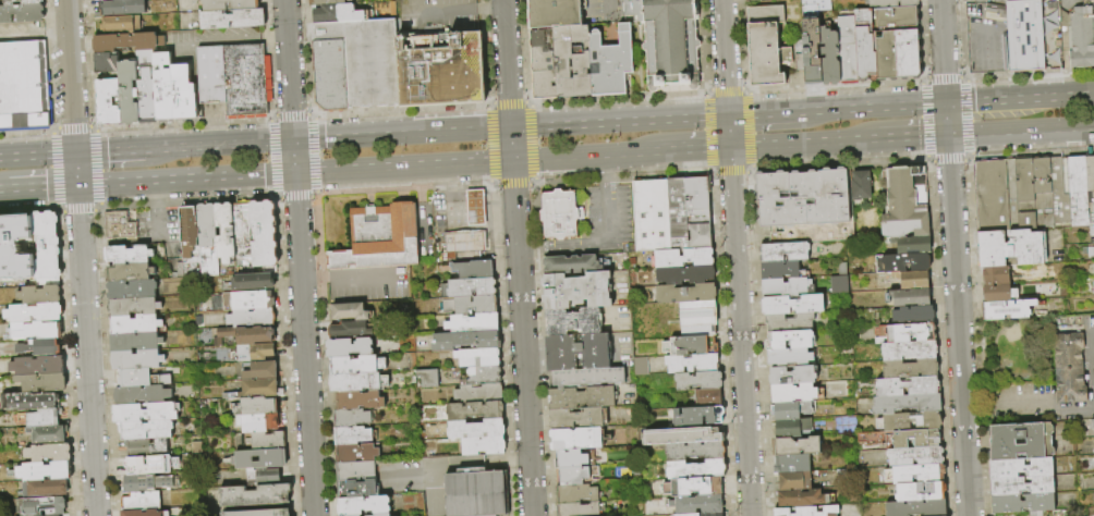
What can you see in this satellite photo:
building: (99, 0)
building: (976, 0)
building: (998, 0)
building: (752, 1)
building: (23, 2)
building: (330, 2)
building: (890, 3)
building: (212, 5)
building: (122, 8)
building: (1092, 9)
road: (489, 11)
building: (812, 12)
building: (556, 13)
building: (21, 14)
building: (339, 14)
building: (764, 14)
parking lot: (435, 15)
road: (435, 15)
building: (896, 17)
building: (232, 20)
building: (121, 24)
road: (952, 27)
road: (37, 33)
building: (1079, 36)
road: (986, 37)
building: (1023, 37)
road: (271, 40)
building: (668, 40)
building: (126, 42)
road: (212, 44)
road: (1049, 44)
building: (864, 46)
building: (846, 47)
building: (539, 51)
road: (941, 51)
building: (765, 54)
building: (798, 54)
building: (907, 54)
building: (566, 56)
building: (886, 56)
building: (811, 57)
building: (827, 57)
road: (639, 60)
building: (367, 61)
building: (610, 62)
building: (106, 64)
road: (506, 64)
building: (440, 66)
road: (288, 70)
building: (581, 72)
building: (211, 75)
building: (330, 75)
building: (246, 82)
road: (1053, 82)
building: (543, 84)
road: (989, 86)
building: (24, 87)
building: (146, 87)
building: (163, 87)
building: (183, 91)
building: (129, 93)
road: (1056, 97)
road: (982, 101)
building: (108, 102)
traffic signals: (945, 103)
road: (874, 108)
road: (765, 114)
traffic signals: (727, 116)
road: (618, 122)
traffic signals: (510, 128)
road: (1020, 130)
road: (401, 134)
traffic signals: (947, 135)
road: (903, 137)
traffic signals: (293, 142)
road: (794, 143)
road: (510, 144)
road: (224, 145)
traffic signals: (729, 147)
road: (694, 149)
road: (116, 151)
traffic signals: (75, 153)
road: (584, 155)
road: (37, 156)
road: (293, 157)
traffic signals: (511, 160)
road: (402, 165)
road: (611, 169)
traffic signals: (294, 172)
road: (451, 176)
road: (185, 177)
building: (861, 184)
road: (883, 184)
traffic signals: (77, 185)
road: (39, 187)
building: (1091, 188)
road: (0, 189)
road: (874, 189)
building: (1060, 191)
building: (1079, 193)
building: (1043, 194)
road: (159, 195)
building: (1025, 195)
building: (997, 196)
building: (697, 197)
building: (802, 197)
road: (452, 206)
building: (475, 208)
road: (499, 212)
road: (615, 212)
road: (476, 213)
building: (677, 213)
road: (460, 214)
building: (559, 216)
building: (651, 216)
building: (119, 226)
road: (161, 226)
building: (242, 231)
building: (812, 232)
building: (224, 233)
building: (264, 236)
building: (700, 236)
building: (379, 238)
building: (207, 241)
building: (46, 244)
building: (463, 244)
road: (585, 244)
building: (912, 244)
building: (189, 245)
road: (535, 246)
building: (15, 248)
building: (1011, 248)
building: (783, 251)
building: (127, 254)
building: (469, 255)
road: (81, 257)
road: (734, 257)
building: (682, 258)
building: (903, 262)
building: (570, 265)
building: (475, 270)
building: (781, 270)
building: (130, 272)
building: (684, 275)
building: (998, 275)
building: (912, 279)
building: (47, 282)
building: (252, 282)
road: (368, 283)
building: (837, 284)
road: (317, 285)
building: (1092, 286)
building: (787, 287)
building: (469, 288)
building: (131, 290)
building: (576, 291)
building: (1000, 293)
building: (685, 294)
building: (38, 295)
building: (911, 297)
building: (253, 300)
building: (216, 303)
building: (793, 305)
building: (470, 306)
building: (133, 307)
road: (957, 309)
building: (1010, 310)
building: (34, 312)
building: (350, 312)
building: (697, 314)
building: (913, 315)
building: (251, 319)
building: (572, 321)
building: (790, 322)
building: (472, 323)
building: (135, 324)
road: (1092, 327)
building: (33, 330)
building: (349, 330)
building: (697, 331)
building: (222, 333)
building: (905, 333)
road: (1091, 334)
building: (255, 335)
road: (521, 337)
building: (789, 340)
building: (466, 341)
building: (135, 342)
road: (304, 343)
building: (690, 346)
building: (40, 347)
building: (350, 347)
building: (909, 351)
building: (258, 352)
park: (1018, 353)
building: (478, 358)
building: (789, 358)
building: (136, 360)
building: (560, 360)
building: (692, 364)
building: (36, 365)
road: (1092, 365)
building: (356, 366)
building: (911, 368)
building: (1070, 369)
building: (262, 371)
building: (793, 376)
building: (483, 377)
building: (587, 378)
building: (139, 379)
building: (428, 379)
building: (697, 381)
building: (41, 382)
building: (357, 382)
building: (908, 386)
building: (257, 390)
building: (795, 393)
building: (479, 394)
building: (141, 395)
building: (709, 397)
road: (1093, 397)
building: (582, 398)
building: (29, 401)
building: (360, 401)
road: (1049, 401)
building: (907, 404)
building: (256, 406)
building: (475, 410)
building: (792, 410)
building: (146, 413)
building: (698, 416)
building: (40, 418)
building: (352, 418)
building: (576, 419)
building: (909, 421)
building: (258, 422)
building: (1092, 425)
building: (792, 428)
building: (146, 430)
building: (476, 430)
building: (47, 433)
building: (352, 437)
building: (679, 437)
building: (901, 438)
building: (575, 439)
building: (265, 441)
building: (1022, 442)
building: (483, 446)
building: (798, 446)
building: (146, 447)
building: (695, 451)
building: (48, 452)
building: (356, 453)
building: (915, 456)
building: (571, 459)
building: (238, 460)
road: (476, 464)
building: (792, 464)
building: (150, 465)
building: (1022, 468)
building: (695, 469)
building: (42, 470)
building: (355, 471)
building: (915, 475)
building: (573, 476)
building: (260, 477)
road: (408, 478)
building: (797, 480)
building: (145, 483)
building: (693, 487)
building: (1023, 487)
building: (45, 488)
building: (356, 489)
building: (921, 491)
building: (575, 493)
building: (476, 494)
building: (255, 495)
building: (802, 497)
building: (141, 501)
building: (1024, 504)
building: (696, 505)
building: (40, 506)
building: (364, 506)
building: (916, 507)
building: (578, 509)
building: (809, 512)
building: (141, 513)
building: (258, 513)
building: (702, 514)
building: (49, 515)
building: (382, 515)

